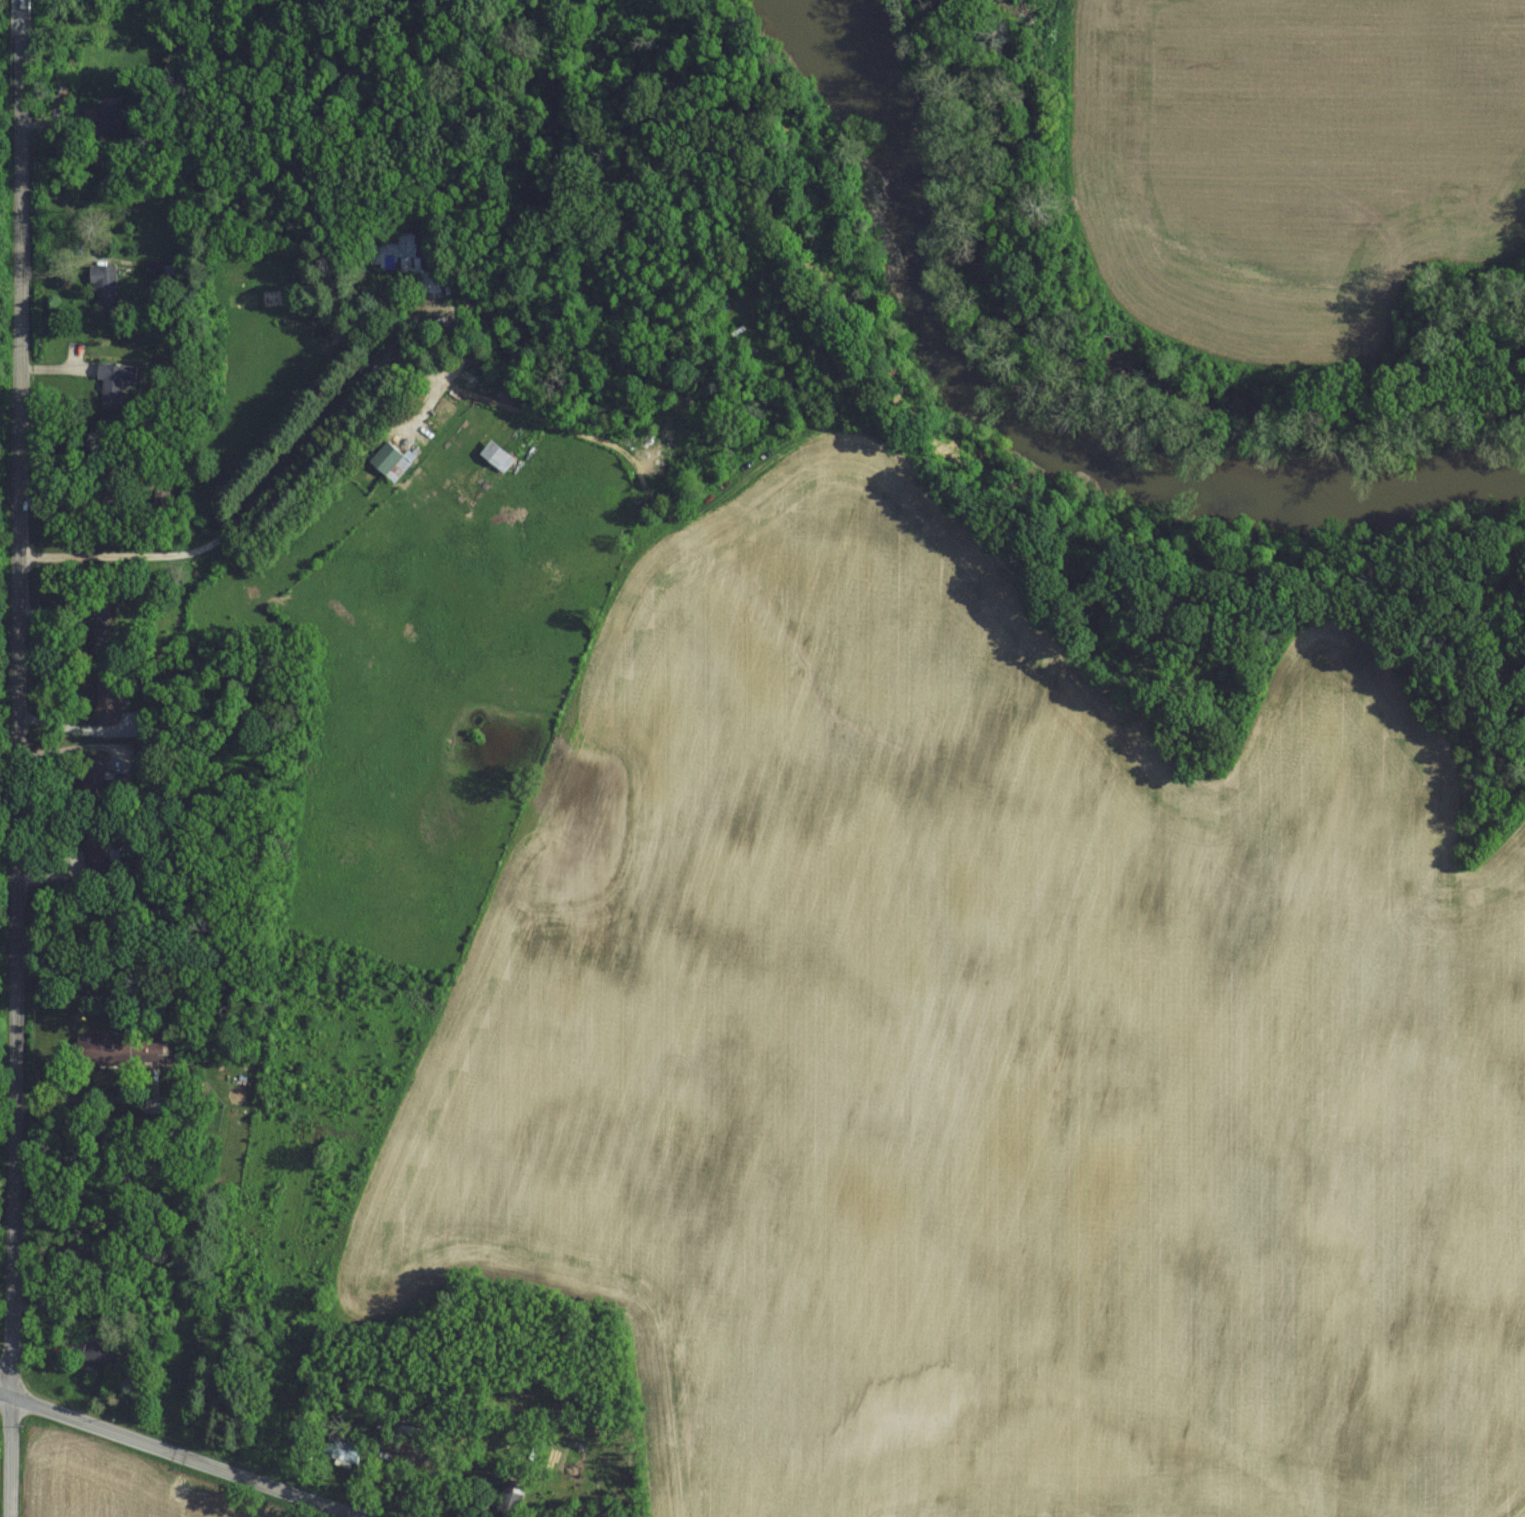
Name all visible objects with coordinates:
building: (105, 298)
road: (325, 412)
river: (1071, 414)
building: (133, 724)
road: (15, 758)
road: (180, 1455)

